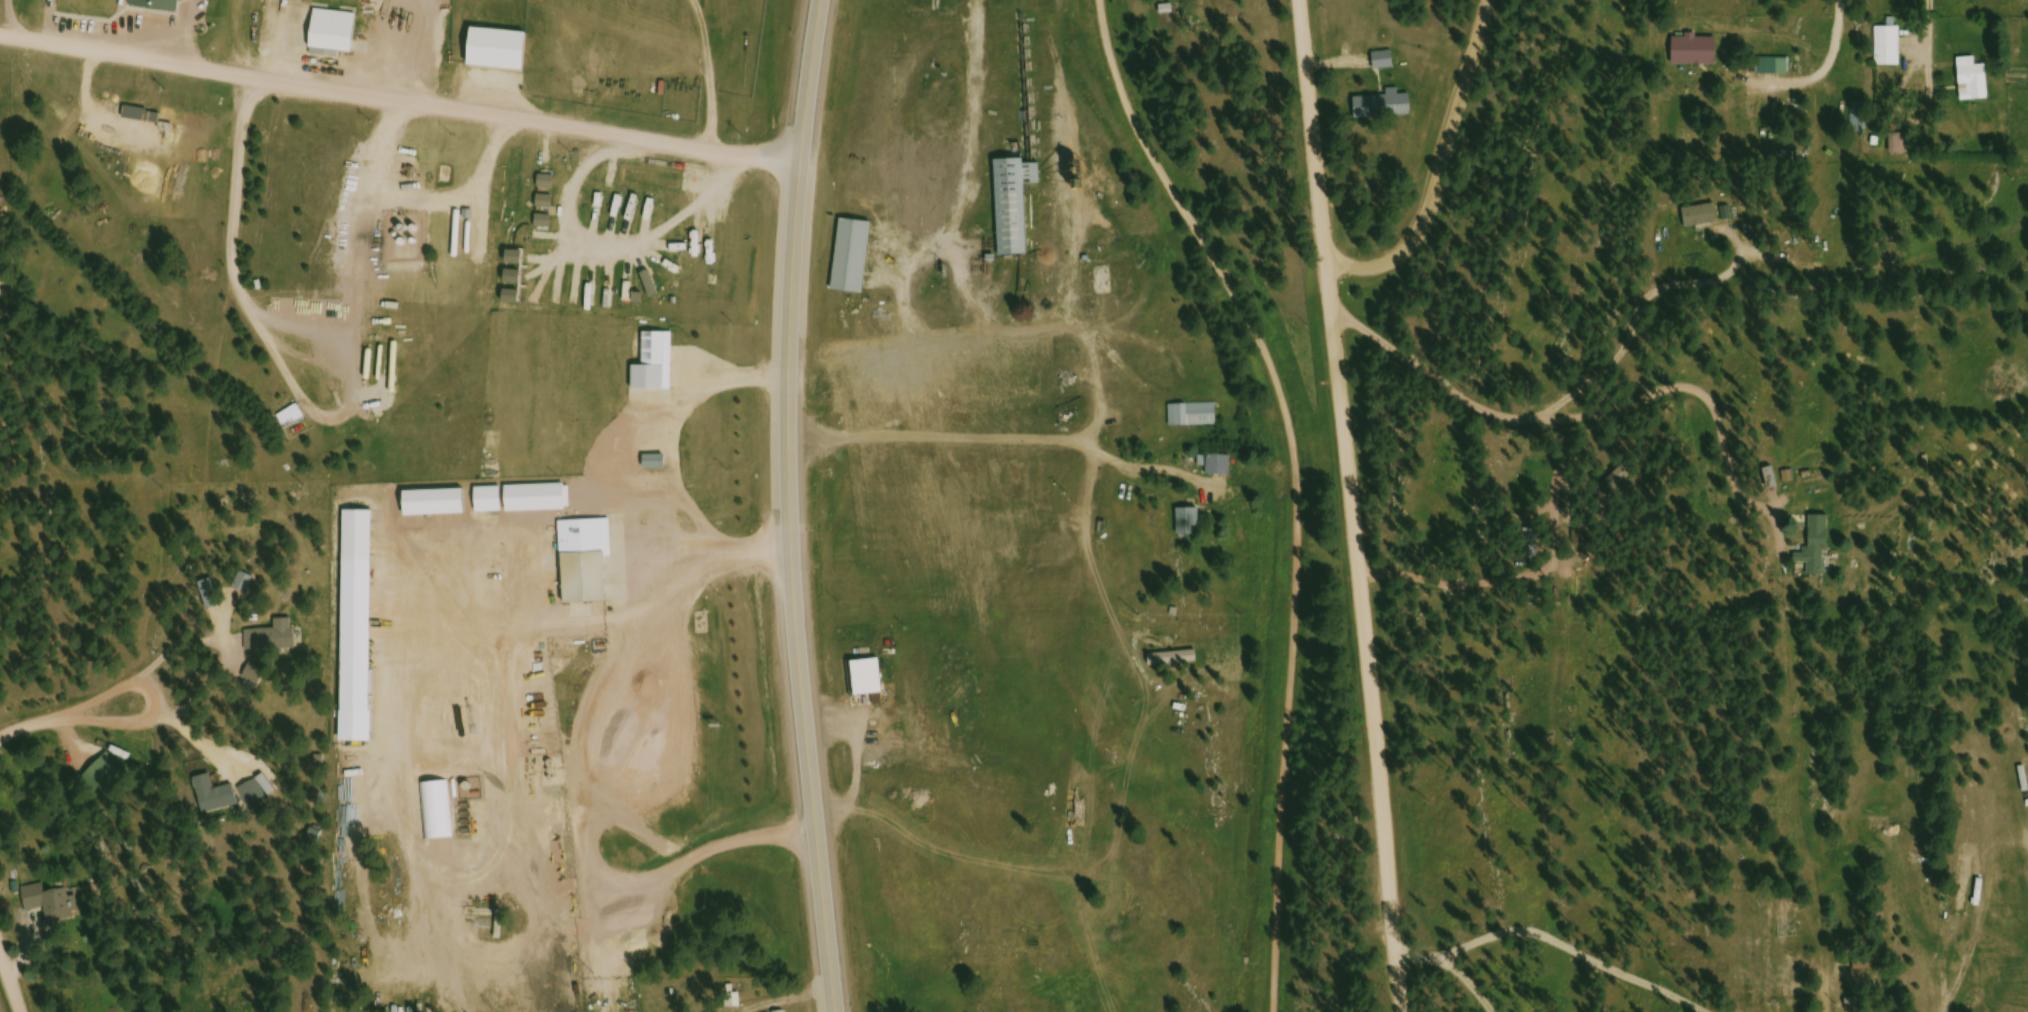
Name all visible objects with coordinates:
building: (128, 5)
road: (1494, 18)
building: (335, 33)
road: (1930, 47)
building: (1889, 49)
building: (500, 52)
building: (1697, 53)
building: (1385, 62)
building: (1775, 68)
road: (1828, 71)
building: (1974, 82)
road: (399, 96)
building: (1386, 108)
building: (142, 117)
building: (1861, 119)
building: (1901, 146)
road: (1444, 194)
building: (1016, 205)
building: (1702, 219)
building: (700, 244)
building: (854, 259)
road: (1636, 323)
building: (657, 366)
building: (1194, 418)
building: (292, 419)
road: (1559, 425)
building: (662, 465)
building: (1220, 468)
building: (1772, 481)
road: (1295, 484)
building: (547, 498)
building: (490, 502)
road: (1348, 505)
road: (790, 506)
building: (1191, 525)
building: (1818, 550)
building: (595, 562)
building: (212, 597)
building: (359, 628)
building: (272, 642)
building: (256, 676)
building: (869, 680)
road: (156, 711)
road: (46, 728)
building: (107, 777)
building: (257, 793)
building: (216, 796)
building: (439, 811)
building: (1878, 828)
building: (2006, 881)
building: (51, 904)
road: (1456, 972)
road: (10, 979)

